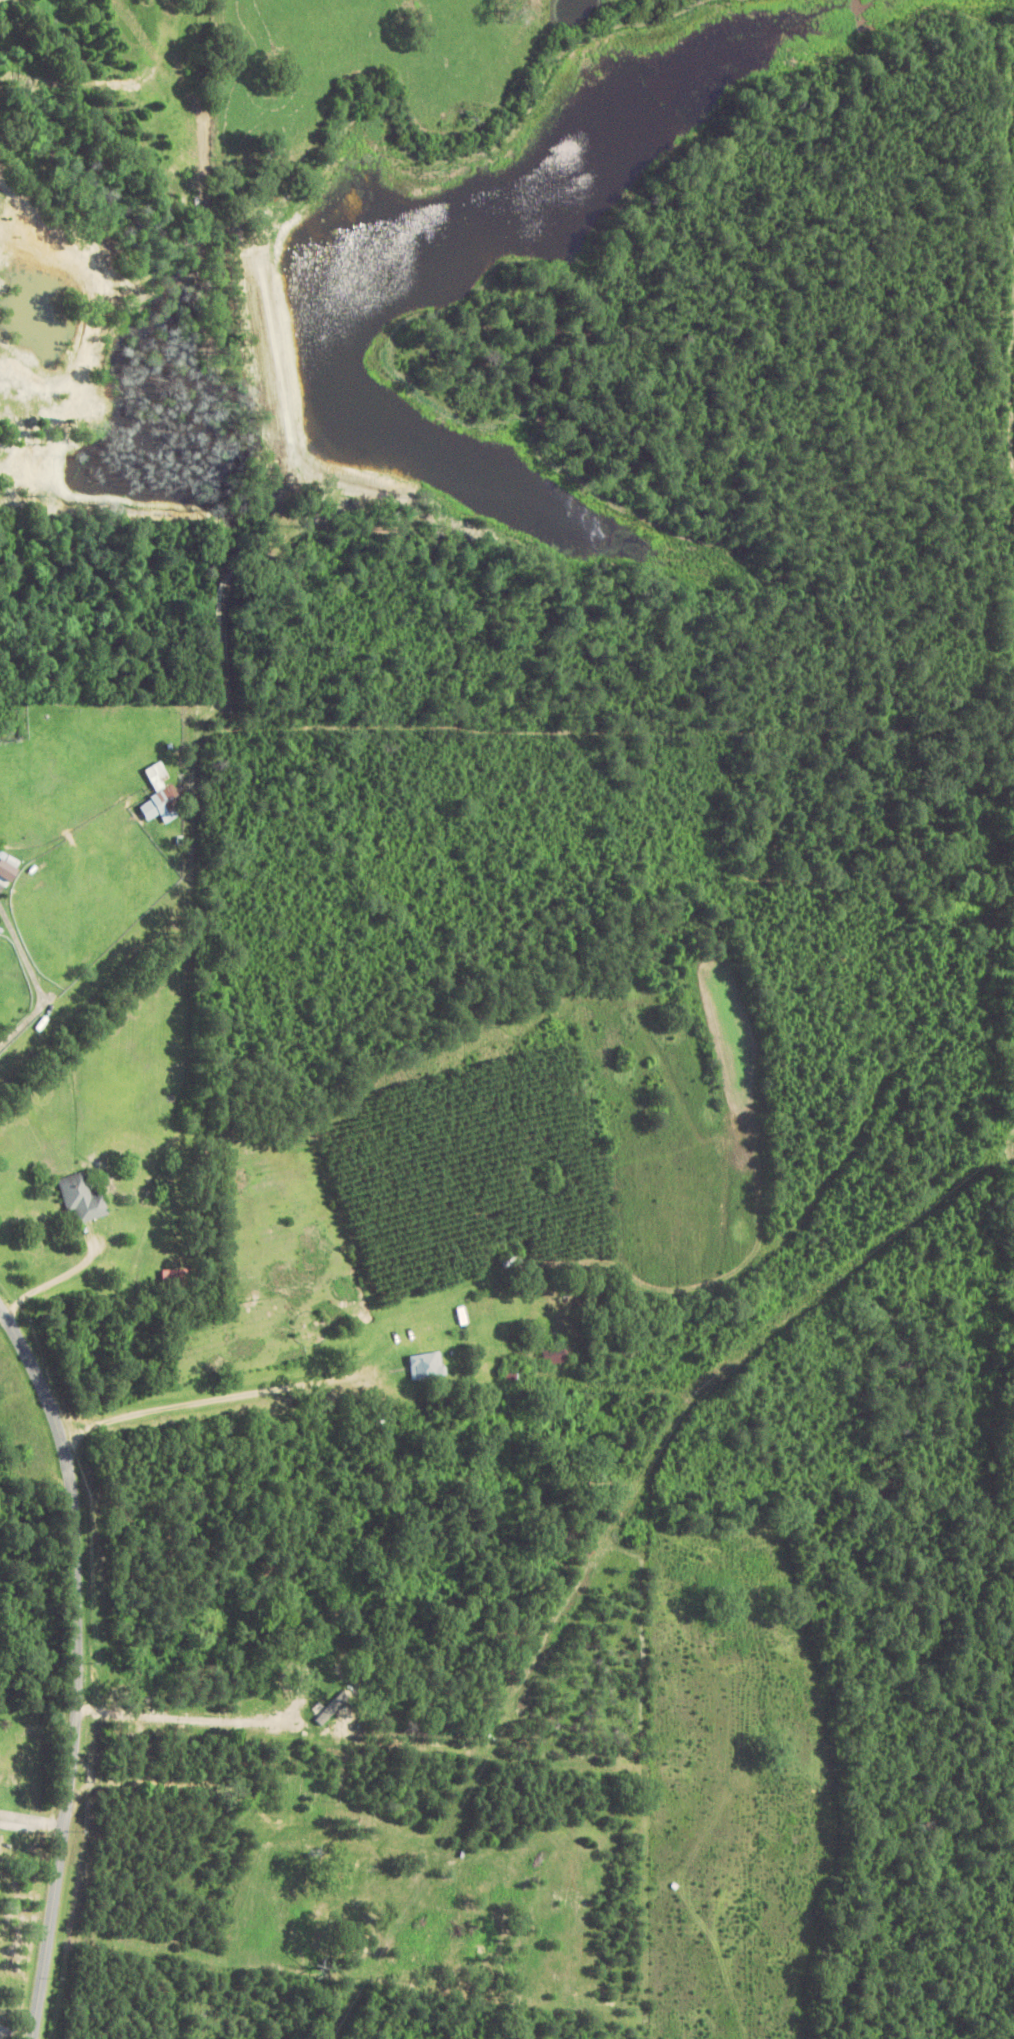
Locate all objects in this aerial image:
building: (161, 796)
building: (83, 1199)
building: (512, 1262)
building: (175, 1280)
building: (554, 1355)
building: (427, 1366)
road: (211, 1404)
road: (76, 1666)
road: (966, 1673)

